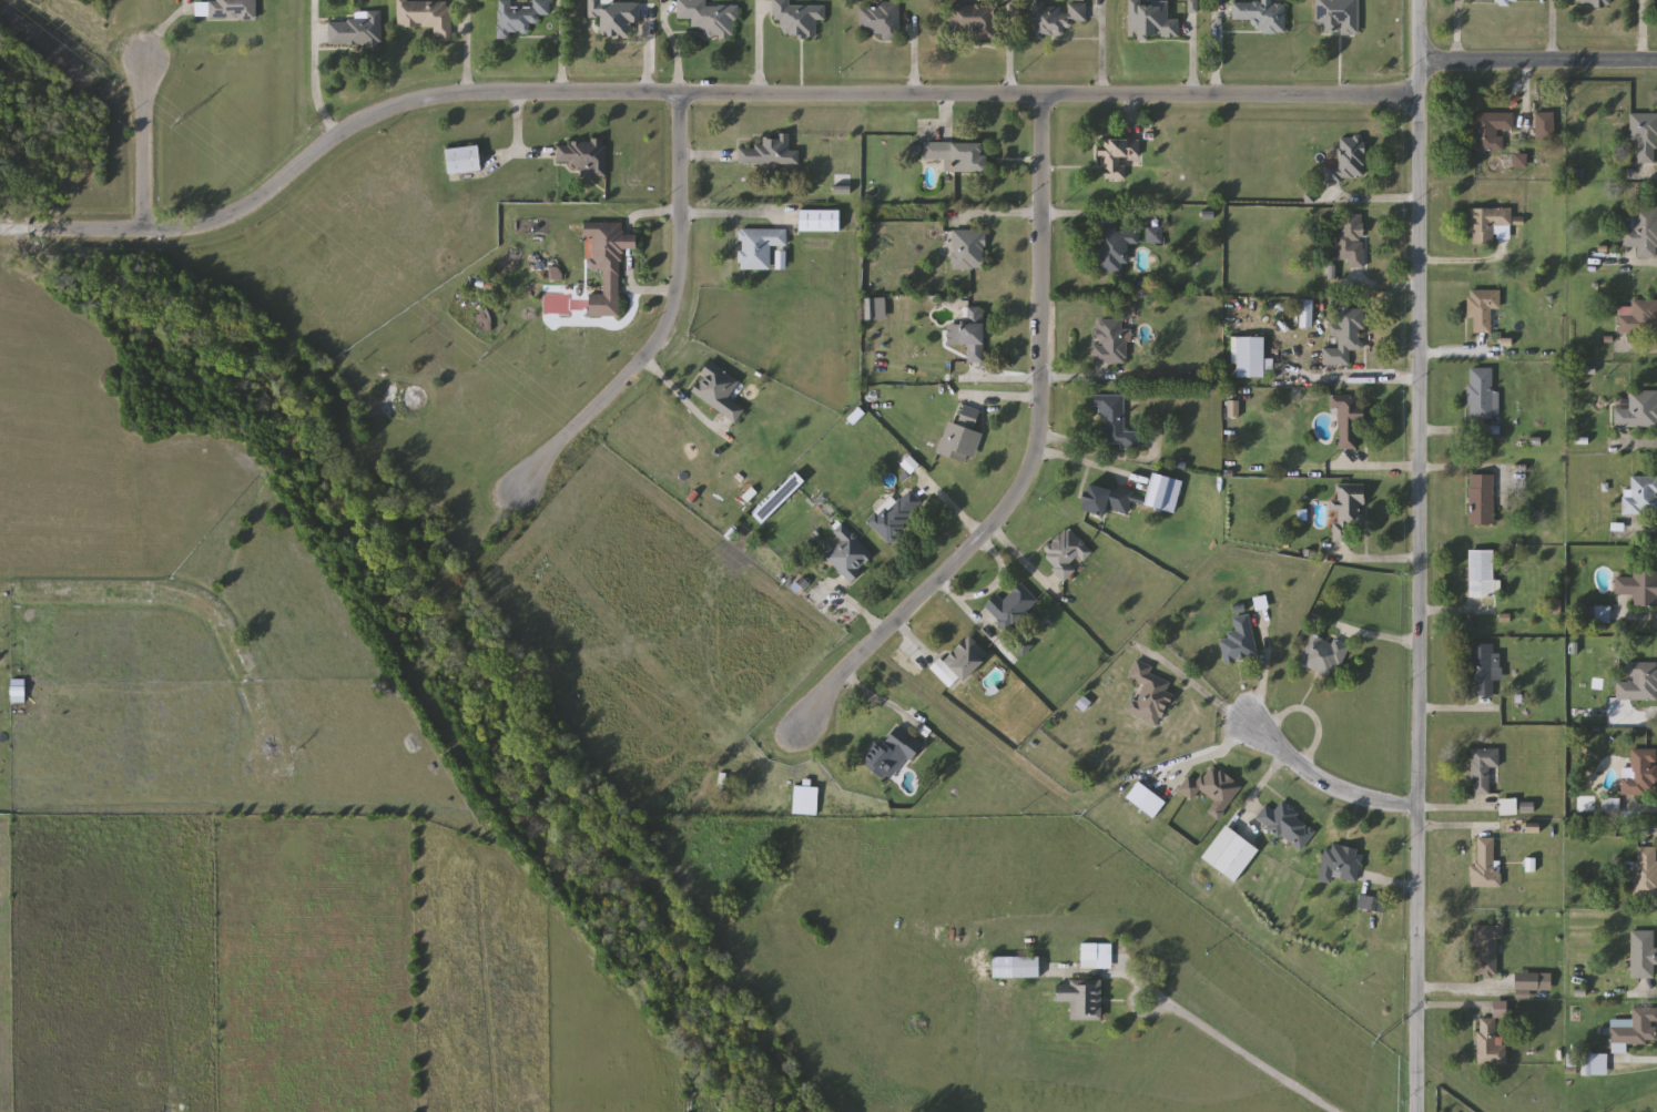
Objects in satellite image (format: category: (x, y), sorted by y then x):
building: (1495, 1)
building: (1589, 3)
building: (1656, 3)
building: (233, 10)
building: (1262, 14)
building: (427, 16)
building: (616, 16)
building: (520, 17)
building: (1059, 17)
building: (1338, 17)
building: (710, 18)
building: (797, 18)
building: (881, 19)
building: (973, 20)
building: (1151, 20)
building: (356, 30)
road: (1643, 31)
road: (1457, 32)
road: (1553, 32)
road: (562, 50)
road: (1101, 50)
road: (1216, 50)
road: (916, 59)
road: (1010, 59)
road: (1193, 60)
road: (1534, 64)
road: (313, 72)
road: (687, 98)
road: (1527, 102)
power tower: (182, 120)
road: (518, 125)
building: (1546, 126)
building: (1490, 130)
building: (1645, 135)
road: (143, 143)
building: (771, 151)
road: (518, 155)
building: (584, 155)
building: (959, 155)
building: (1118, 156)
building: (464, 160)
building: (1346, 161)
road: (1653, 181)
road: (1368, 201)
road: (1054, 216)
building: (819, 220)
building: (1490, 225)
road: (629, 231)
building: (1643, 232)
building: (1350, 239)
building: (759, 246)
building: (1115, 247)
building: (969, 249)
building: (608, 264)
road: (1463, 264)
road: (1643, 266)
road: (1382, 287)
road: (653, 290)
building: (1483, 309)
building: (1637, 316)
building: (485, 318)
road: (670, 323)
building: (973, 333)
building: (1346, 336)
building: (1112, 340)
road: (1640, 353)
power tower: (485, 354)
building: (1251, 357)
road: (1455, 358)
road: (1045, 379)
road: (1373, 381)
building: (719, 390)
road: (678, 392)
building: (1482, 394)
building: (1637, 409)
building: (1115, 421)
building: (1350, 421)
road: (1452, 431)
building: (963, 436)
road: (1633, 446)
road: (1031, 463)
road: (1422, 471)
building: (1127, 497)
building: (1641, 497)
building: (780, 498)
building: (1482, 500)
building: (1348, 511)
building: (895, 514)
road: (1641, 530)
building: (1065, 553)
building: (848, 555)
road: (1412, 555)
road: (1375, 562)
building: (1483, 575)
power tower: (783, 582)
building: (1639, 588)
road: (988, 591)
road: (194, 599)
building: (1013, 608)
road: (1447, 614)
road: (1637, 619)
road: (974, 621)
road: (1366, 637)
building: (1239, 641)
building: (1323, 655)
building: (960, 664)
building: (1483, 669)
building: (1639, 682)
building: (1149, 695)
road: (1452, 713)
road: (1639, 718)
building: (895, 752)
building: (1484, 769)
building: (1639, 773)
road: (1324, 781)
building: (1212, 789)
building: (1138, 794)
building: (805, 800)
road: (1643, 809)
road: (1460, 810)
power tower: (1081, 812)
building: (1288, 825)
road: (1452, 828)
road: (1650, 836)
building: (1231, 854)
building: (1341, 864)
building: (1485, 865)
building: (1646, 871)
building: (1372, 904)
building: (1487, 950)
building: (1643, 953)
building: (1089, 956)
building: (1017, 967)
road: (1455, 989)
building: (1081, 998)
road: (1640, 999)
road: (1456, 1008)
building: (1635, 1028)
road: (1219, 1038)
power tower: (1378, 1038)
building: (1490, 1043)
road: (1634, 1061)

